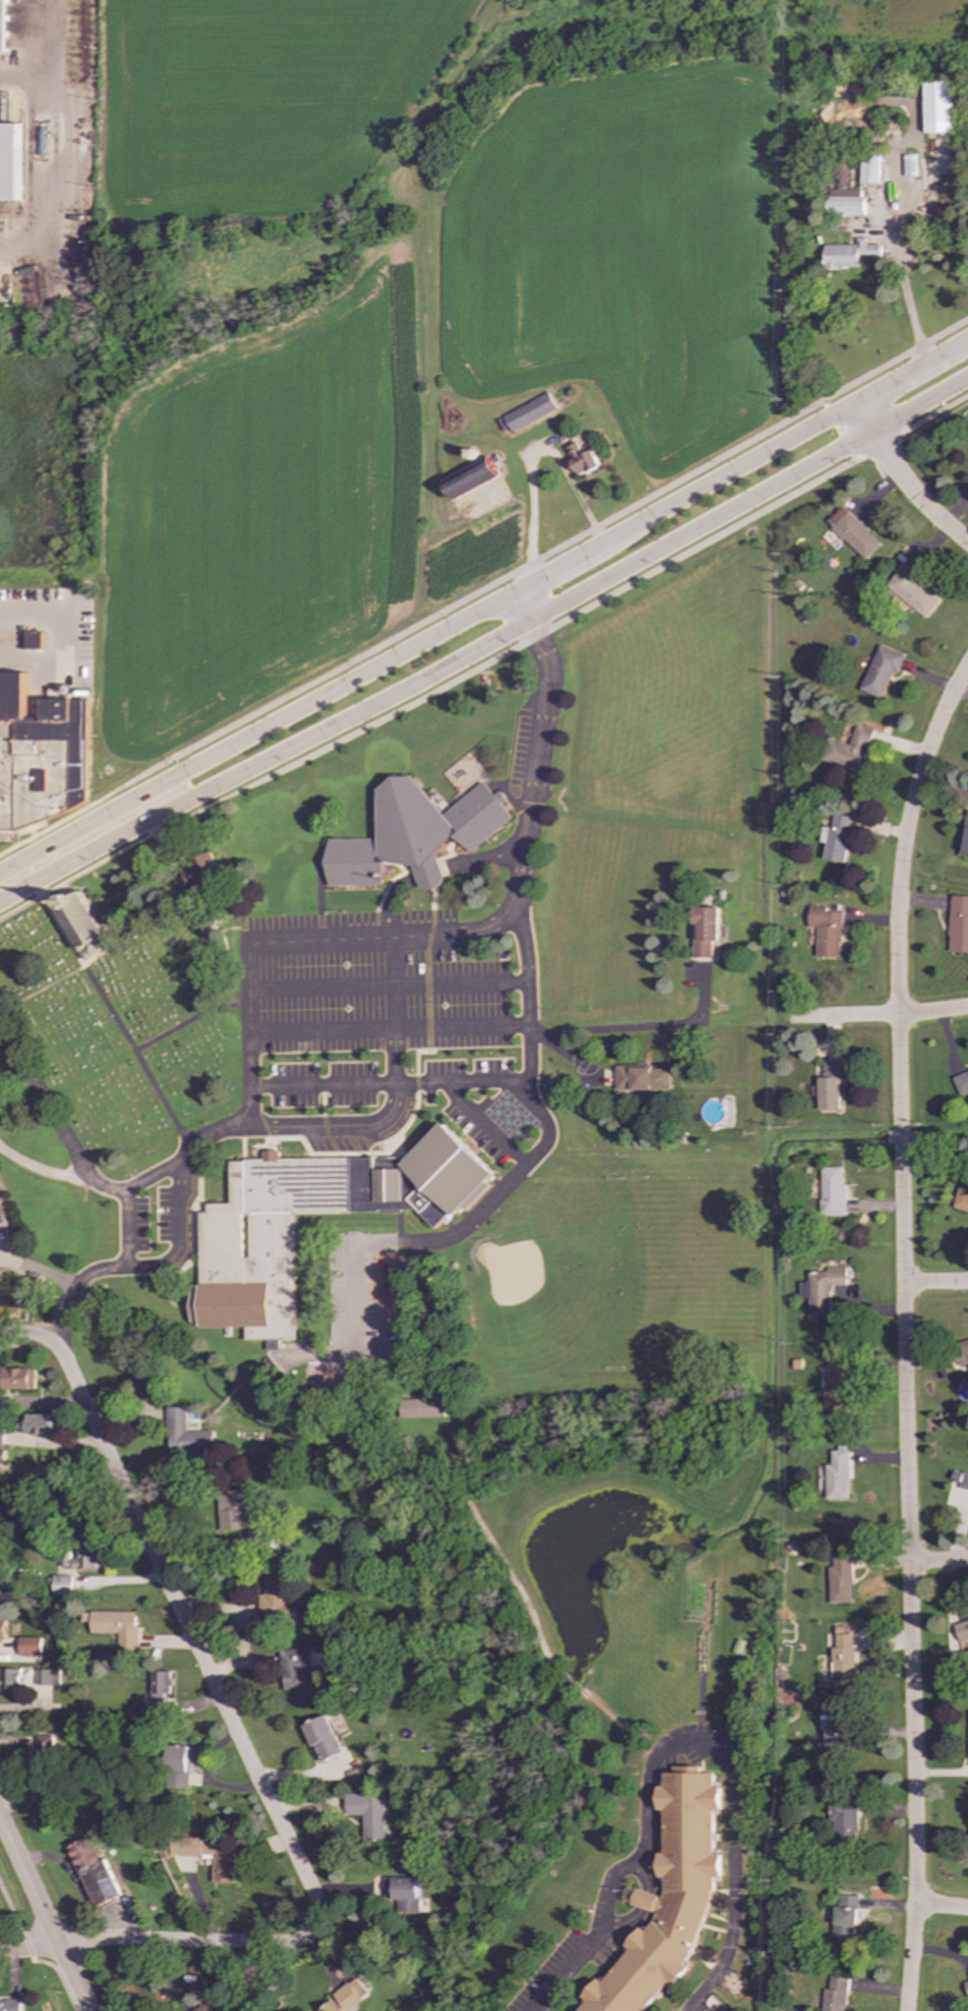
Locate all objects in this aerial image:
building: (2, 25)
road: (38, 48)
building: (937, 106)
building: (9, 162)
building: (868, 168)
building: (845, 203)
building: (848, 254)
road: (898, 266)
crop: (393, 299)
building: (529, 412)
road: (536, 450)
building: (579, 459)
building: (469, 478)
road: (901, 481)
building: (855, 535)
road: (567, 540)
building: (910, 590)
road: (597, 602)
road: (484, 605)
building: (31, 640)
road: (486, 643)
building: (879, 670)
building: (847, 749)
building: (39, 755)
road: (82, 807)
building: (412, 834)
road: (523, 834)
building: (965, 837)
building: (835, 838)
road: (110, 857)
building: (200, 871)
building: (958, 924)
building: (82, 926)
building: (705, 930)
building: (825, 931)
road: (298, 937)
road: (386, 984)
road: (878, 1015)
park: (117, 1018)
road: (630, 1019)
road: (388, 1028)
building: (641, 1078)
building: (961, 1084)
building: (828, 1087)
road: (527, 1097)
road: (236, 1124)
road: (41, 1169)
building: (832, 1192)
building: (961, 1199)
road: (123, 1228)
building: (244, 1263)
road: (142, 1266)
road: (935, 1283)
building: (821, 1291)
building: (310, 1324)
road: (27, 1331)
road: (903, 1331)
building: (961, 1352)
building: (17, 1378)
building: (835, 1388)
building: (422, 1408)
building: (41, 1424)
building: (185, 1434)
building: (1, 1436)
building: (1, 1454)
building: (837, 1476)
building: (960, 1479)
building: (69, 1493)
building: (236, 1508)
building: (80, 1559)
road: (939, 1560)
building: (841, 1578)
building: (61, 1585)
building: (276, 1599)
building: (116, 1626)
building: (2, 1630)
building: (961, 1630)
building: (29, 1646)
building: (843, 1659)
building: (299, 1671)
building: (47, 1677)
building: (9, 1678)
building: (161, 1685)
road: (682, 1738)
building: (323, 1739)
building: (836, 1743)
building: (42, 1751)
road: (244, 1753)
building: (179, 1767)
building: (368, 1813)
building: (843, 1823)
building: (967, 1835)
building: (967, 1836)
building: (224, 1869)
building: (91, 1870)
building: (404, 1893)
building: (670, 1896)
road: (942, 1907)
road: (649, 1910)
road: (10, 1912)
road: (42, 1916)
building: (844, 1918)
road: (25, 1947)
road: (27, 1947)
road: (939, 1952)
road: (58, 1979)
building: (966, 1986)
building: (834, 1994)
building: (345, 1997)
building: (10, 2005)
building: (205, 2008)

